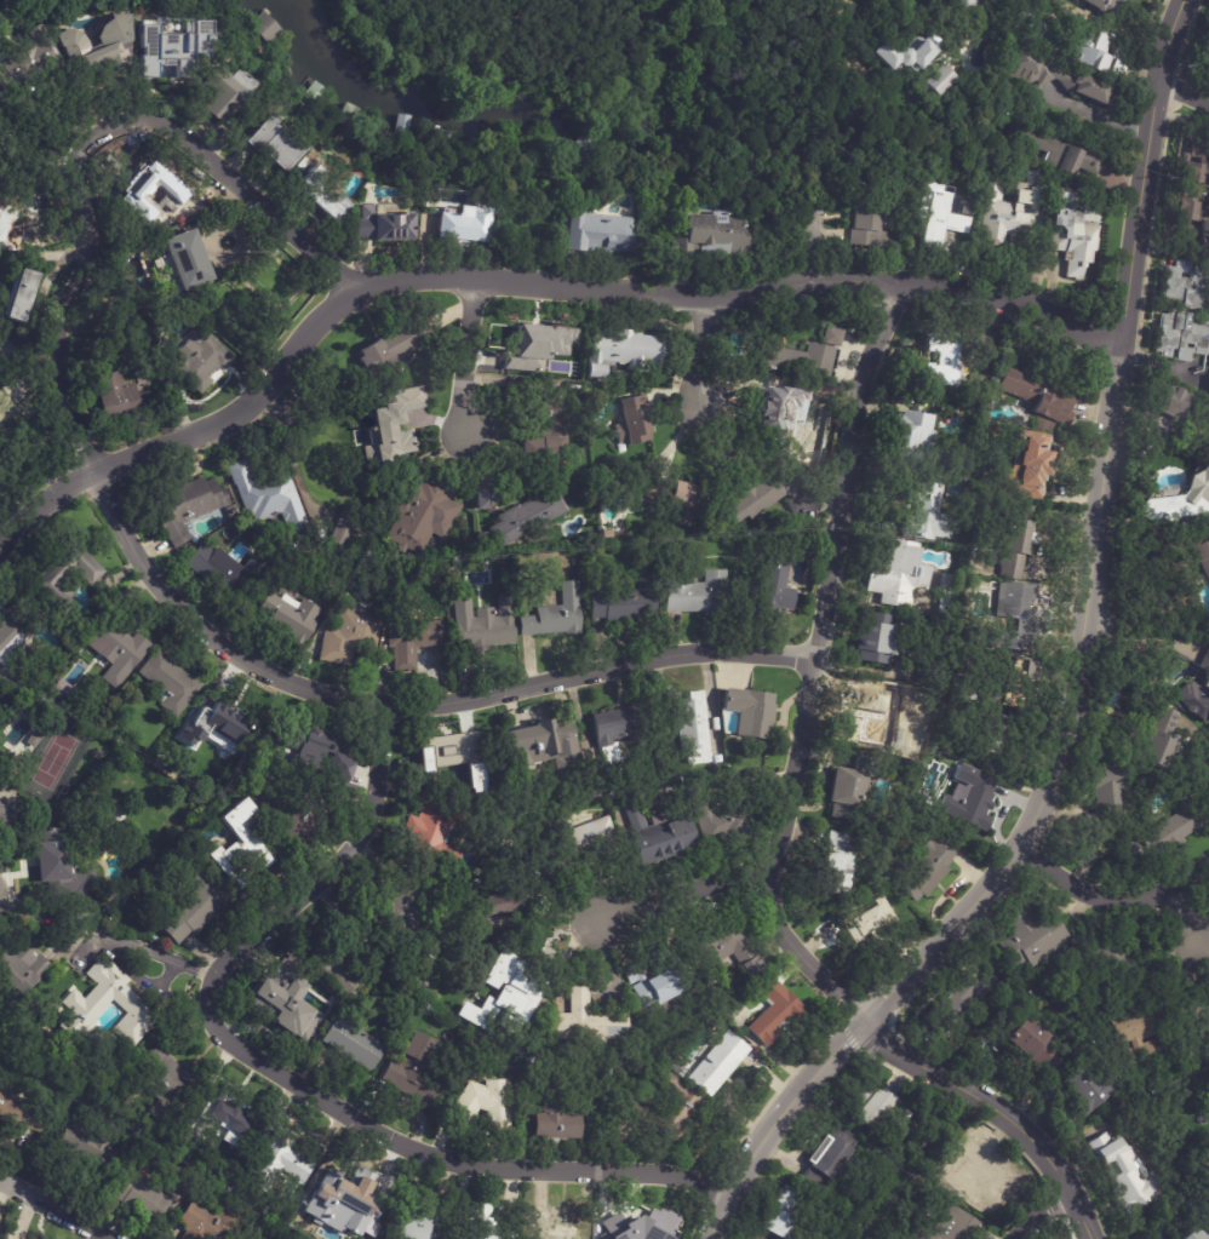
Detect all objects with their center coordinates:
building: (968, 5)
building: (1106, 10)
building: (263, 27)
building: (176, 47)
building: (99, 48)
building: (1207, 51)
building: (1096, 55)
building: (25, 61)
park: (560, 61)
building: (915, 64)
building: (1049, 78)
road: (1184, 93)
building: (223, 94)
road: (1098, 113)
building: (268, 147)
building: (1060, 154)
building: (297, 166)
building: (1196, 166)
building: (181, 196)
building: (319, 196)
road: (250, 197)
building: (22, 208)
building: (0, 210)
building: (1010, 214)
building: (941, 218)
building: (1193, 218)
building: (383, 222)
building: (462, 228)
building: (869, 228)
building: (1076, 235)
building: (594, 236)
building: (709, 239)
building: (128, 248)
building: (182, 264)
road: (517, 280)
building: (1187, 285)
building: (18, 296)
building: (832, 335)
building: (1182, 335)
building: (393, 345)
building: (535, 345)
building: (619, 351)
road: (699, 354)
road: (470, 355)
building: (197, 357)
building: (798, 360)
building: (944, 360)
building: (113, 395)
building: (1039, 395)
building: (1174, 401)
building: (19, 409)
building: (632, 420)
building: (787, 420)
building: (1043, 424)
building: (546, 434)
building: (910, 436)
building: (393, 437)
building: (1024, 468)
building: (328, 476)
building: (267, 495)
building: (483, 497)
building: (756, 497)
building: (681, 498)
building: (1181, 499)
building: (187, 506)
building: (928, 511)
building: (422, 514)
building: (234, 515)
building: (527, 516)
building: (1184, 522)
building: (607, 534)
building: (482, 538)
building: (1014, 539)
building: (1202, 551)
building: (217, 570)
building: (64, 574)
building: (896, 574)
building: (768, 589)
building: (697, 593)
building: (946, 595)
building: (626, 602)
building: (555, 615)
building: (291, 618)
building: (1010, 619)
building: (480, 626)
building: (969, 635)
building: (350, 636)
building: (877, 638)
building: (412, 639)
building: (11, 642)
road: (217, 642)
building: (114, 649)
building: (1204, 660)
road: (812, 669)
road: (1078, 677)
building: (167, 682)
building: (1009, 686)
building: (59, 690)
building: (1197, 699)
building: (749, 712)
building: (33, 715)
building: (889, 721)
building: (692, 728)
building: (217, 729)
building: (989, 733)
building: (615, 734)
building: (1161, 740)
building: (29, 741)
building: (545, 747)
building: (321, 753)
building: (446, 753)
building: (848, 788)
building: (1108, 798)
building: (968, 799)
building: (615, 801)
building: (107, 816)
building: (5, 818)
building: (720, 818)
building: (299, 821)
building: (174, 822)
building: (437, 832)
building: (579, 836)
building: (658, 836)
building: (1163, 836)
building: (245, 842)
building: (61, 864)
building: (836, 864)
building: (926, 867)
road: (325, 870)
road: (686, 900)
road: (1112, 901)
building: (407, 902)
building: (500, 904)
building: (195, 908)
road: (1187, 916)
building: (865, 919)
building: (1030, 939)
building: (154, 940)
building: (165, 941)
building: (724, 947)
building: (343, 953)
building: (1112, 959)
building: (21, 970)
building: (655, 980)
building: (512, 986)
building: (691, 994)
building: (282, 1004)
building: (952, 1006)
building: (85, 1008)
building: (1208, 1009)
building: (1208, 1011)
building: (774, 1013)
building: (581, 1020)
building: (1203, 1027)
building: (1136, 1033)
building: (353, 1043)
building: (1032, 1044)
building: (511, 1045)
building: (667, 1054)
building: (717, 1065)
building: (414, 1072)
building: (165, 1084)
building: (1090, 1088)
road: (974, 1094)
building: (871, 1103)
building: (481, 1105)
building: (640, 1108)
building: (19, 1113)
building: (225, 1118)
building: (551, 1118)
building: (88, 1140)
building: (1208, 1149)
building: (825, 1155)
road: (440, 1158)
building: (276, 1160)
building: (204, 1161)
building: (989, 1174)
building: (1125, 1175)
building: (176, 1180)
building: (139, 1199)
building: (1197, 1203)
building: (342, 1206)
road: (51, 1208)
building: (783, 1211)
road: (1038, 1211)
road: (1078, 1211)
building: (213, 1221)
building: (408, 1222)
building: (481, 1223)
building: (555, 1226)
building: (949, 1226)
building: (636, 1228)
building: (1194, 1234)
building: (280, 1238)

